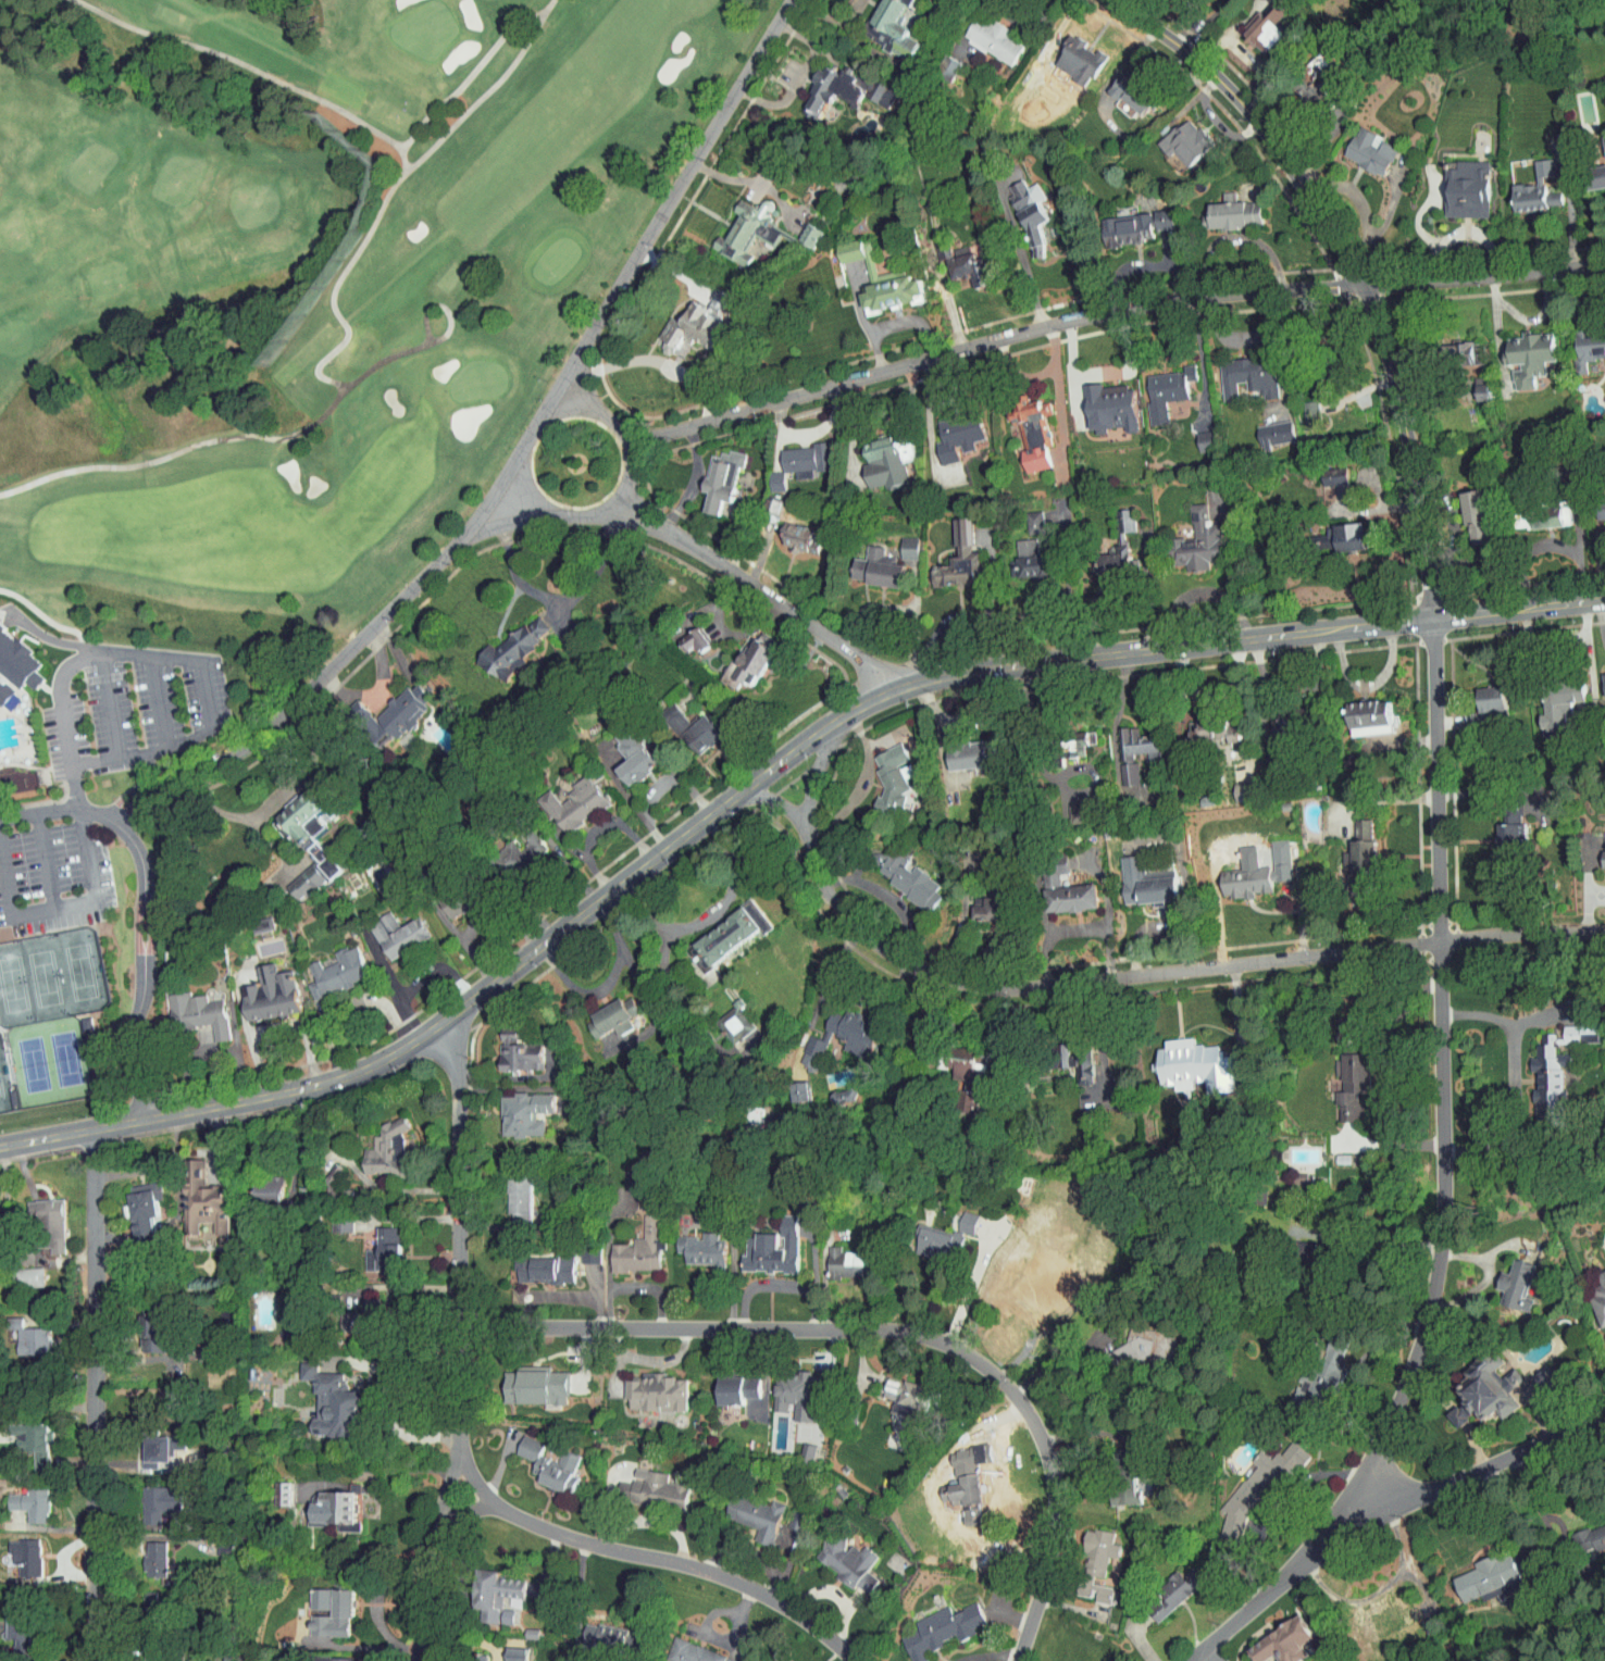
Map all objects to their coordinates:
road: (1023, 18)
building: (1255, 22)
building: (882, 25)
building: (982, 33)
building: (1069, 53)
road: (245, 65)
road: (457, 68)
road: (797, 77)
building: (835, 83)
building: (1302, 83)
building: (1122, 87)
building: (1116, 101)
building: (1175, 135)
building: (1360, 145)
building: (1595, 160)
road: (754, 182)
building: (1457, 183)
road: (377, 187)
road: (669, 201)
building: (1019, 203)
building: (1222, 207)
building: (1154, 212)
building: (1117, 223)
building: (736, 225)
building: (799, 228)
road: (1021, 259)
building: (962, 262)
road: (1353, 266)
building: (863, 272)
park: (297, 292)
road: (1109, 314)
building: (680, 324)
building: (1584, 340)
building: (1453, 342)
building: (1519, 350)
building: (1237, 371)
building: (1471, 383)
building: (1156, 385)
building: (1102, 401)
building: (1301, 407)
building: (1264, 427)
building: (1022, 428)
building: (948, 429)
road: (267, 432)
building: (1195, 435)
building: (795, 453)
building: (873, 457)
road: (630, 460)
building: (1604, 466)
building: (1324, 470)
building: (710, 473)
building: (1597, 505)
building: (1539, 509)
building: (1466, 510)
building: (1113, 514)
building: (1023, 515)
building: (1192, 528)
building: (1336, 530)
building: (791, 533)
building: (1016, 540)
building: (898, 541)
building: (954, 549)
building: (1105, 554)
building: (1024, 559)
building: (867, 562)
road: (758, 590)
road: (987, 598)
road: (559, 599)
road: (867, 609)
road: (34, 613)
traffic signals: (1430, 620)
road: (913, 622)
road: (1601, 622)
road: (938, 628)
building: (684, 634)
road: (1248, 638)
building: (500, 644)
building: (743, 655)
road: (148, 657)
building: (13, 660)
park: (14, 669)
road: (325, 671)
building: (1598, 677)
building: (1, 685)
building: (1483, 692)
building: (1551, 697)
parking lot: (125, 702)
road: (861, 703)
building: (393, 704)
building: (1363, 711)
building: (685, 724)
building: (1206, 724)
building: (1127, 746)
building: (623, 750)
building: (956, 750)
building: (880, 773)
road: (1047, 774)
building: (1230, 785)
road: (265, 790)
road: (781, 797)
building: (563, 798)
building: (1070, 807)
building: (1502, 831)
building: (296, 838)
building: (1351, 842)
building: (513, 845)
building: (1598, 852)
building: (1248, 866)
building: (898, 873)
parking lot: (45, 874)
building: (1136, 877)
building: (1058, 889)
building: (444, 896)
building: (983, 899)
road: (1191, 904)
road: (62, 906)
road: (145, 906)
road: (710, 914)
building: (386, 928)
building: (719, 928)
road: (1078, 929)
building: (326, 966)
park: (50, 977)
road: (1120, 977)
road: (608, 986)
building: (260, 988)
road: (851, 996)
building: (187, 1008)
road: (453, 1013)
building: (601, 1019)
building: (844, 1025)
road: (702, 1033)
building: (508, 1047)
building: (801, 1047)
building: (1071, 1060)
building: (1186, 1060)
building: (1546, 1061)
park: (49, 1062)
road: (1381, 1066)
building: (962, 1073)
building: (1341, 1074)
road: (1508, 1078)
park: (4, 1082)
building: (789, 1086)
road: (1443, 1086)
building: (376, 1144)
building: (326, 1173)
building: (1286, 1174)
building: (258, 1181)
building: (508, 1186)
building: (192, 1195)
building: (134, 1201)
building: (331, 1214)
building: (39, 1216)
building: (957, 1216)
road: (407, 1219)
building: (923, 1235)
building: (629, 1241)
building: (692, 1241)
building: (761, 1242)
road: (1378, 1245)
building: (837, 1257)
building: (534, 1262)
building: (21, 1271)
building: (1505, 1278)
road: (1484, 1279)
building: (1594, 1290)
building: (360, 1300)
building: (148, 1326)
road: (894, 1331)
building: (20, 1332)
road: (470, 1334)
building: (1134, 1340)
building: (192, 1347)
road: (1055, 1360)
building: (1314, 1361)
road: (1355, 1373)
building: (526, 1378)
building: (727, 1382)
building: (1477, 1383)
building: (646, 1385)
building: (784, 1386)
building: (894, 1387)
road: (97, 1391)
building: (322, 1396)
road: (382, 1396)
road: (976, 1429)
building: (22, 1434)
building: (145, 1443)
building: (797, 1445)
building: (539, 1458)
road: (412, 1470)
building: (955, 1478)
building: (1248, 1478)
building: (644, 1483)
building: (1112, 1484)
building: (272, 1486)
building: (148, 1495)
building: (21, 1497)
building: (324, 1502)
road: (471, 1506)
road: (1278, 1508)
building: (747, 1510)
road: (1376, 1511)
road: (1510, 1513)
road: (1554, 1518)
road: (652, 1521)
building: (1584, 1531)
building: (1087, 1544)
building: (16, 1548)
building: (144, 1552)
building: (837, 1554)
road: (656, 1558)
road: (1401, 1561)
building: (1485, 1569)
building: (1085, 1585)
building: (1164, 1585)
building: (484, 1587)
road: (1348, 1602)
building: (332, 1604)
building: (497, 1610)
building: (929, 1624)
building: (9, 1625)
building: (607, 1629)
building: (1273, 1636)
building: (506, 1649)
building: (686, 1649)
building: (142, 1652)
road: (1207, 1652)
road: (990, 1654)
building: (321, 1656)
building: (767, 1660)

